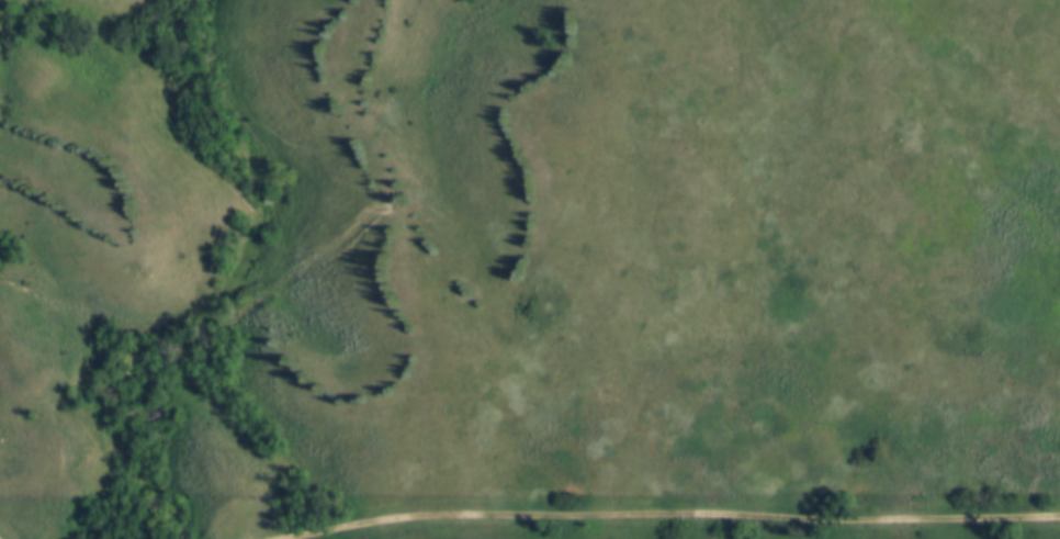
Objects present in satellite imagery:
road: (663, 504)
road: (2, 536)

